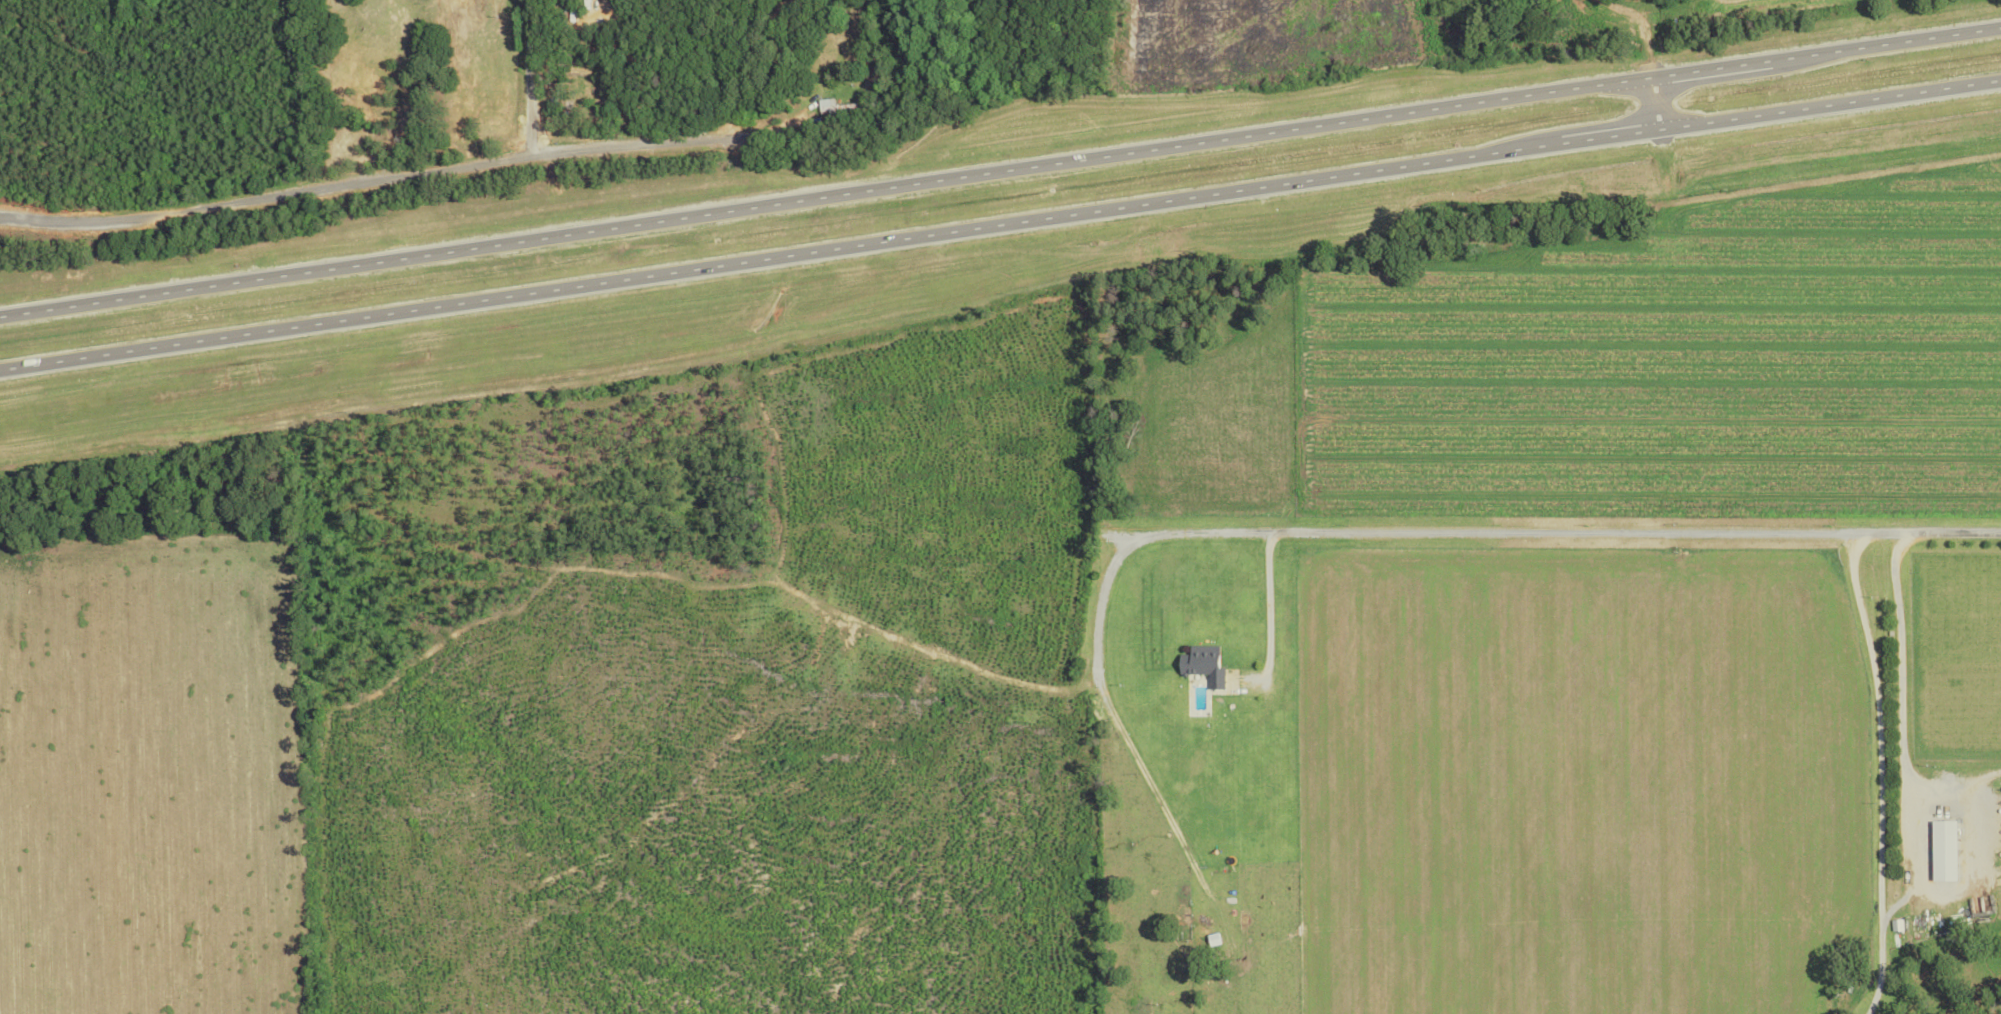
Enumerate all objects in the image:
road: (525, 79)
road: (1651, 103)
road: (1000, 170)
road: (405, 178)
road: (1000, 223)
road: (1317, 532)
road: (1267, 615)
building: (1204, 664)
road: (1899, 705)
road: (1879, 772)
building: (1944, 850)
road: (1922, 862)
building: (1897, 925)

